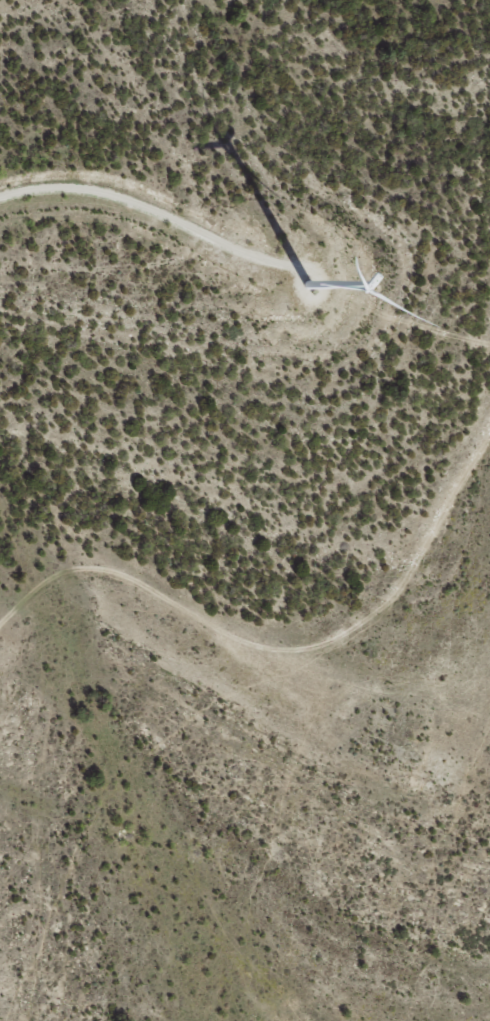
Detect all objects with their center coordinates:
wind turbine: (301, 287)
road: (151, 576)

